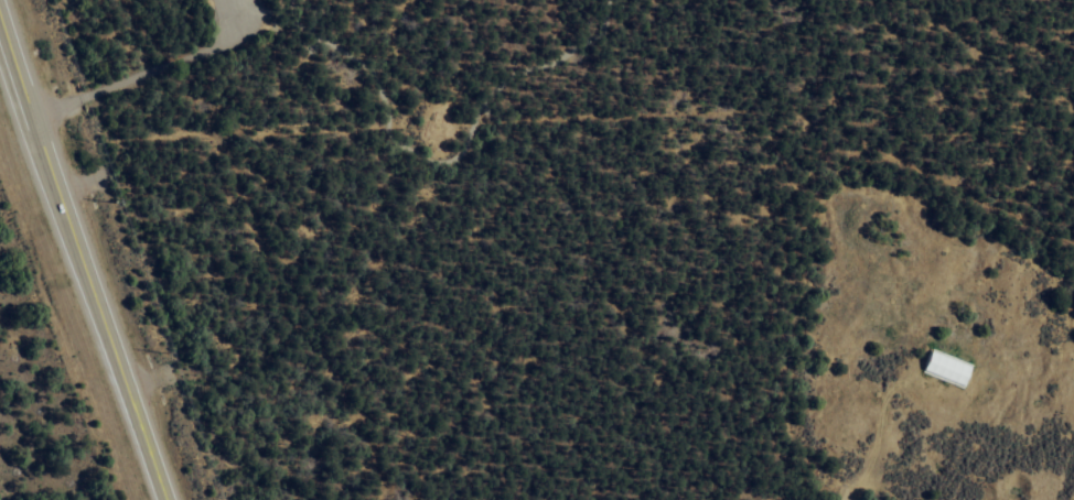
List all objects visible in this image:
parking lot: (239, 18)
road: (864, 35)
road: (688, 37)
road: (151, 66)
road: (619, 78)
road: (79, 264)
road: (856, 485)

